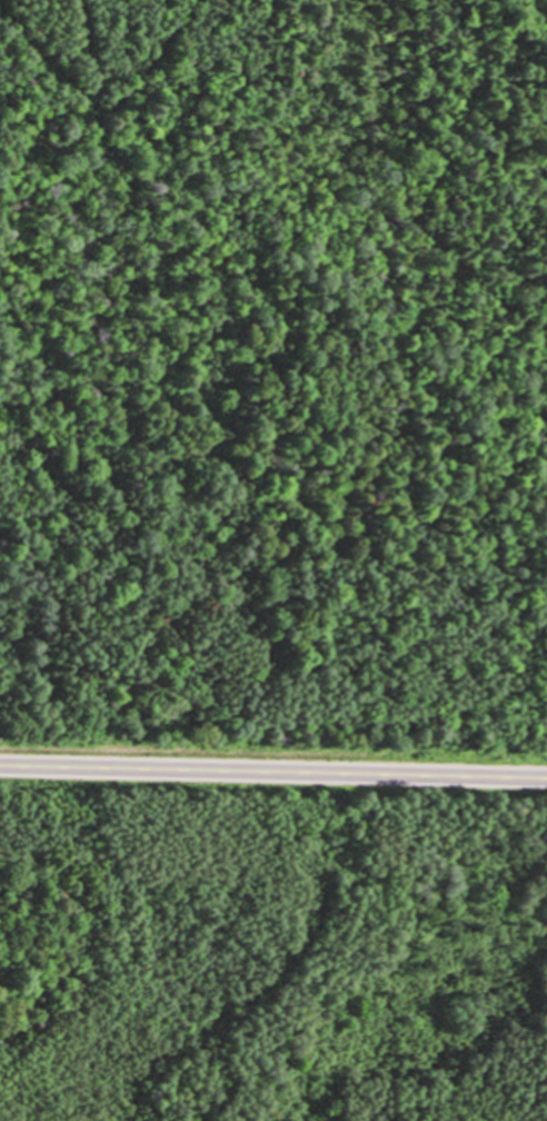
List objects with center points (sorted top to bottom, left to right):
road: (273, 773)

